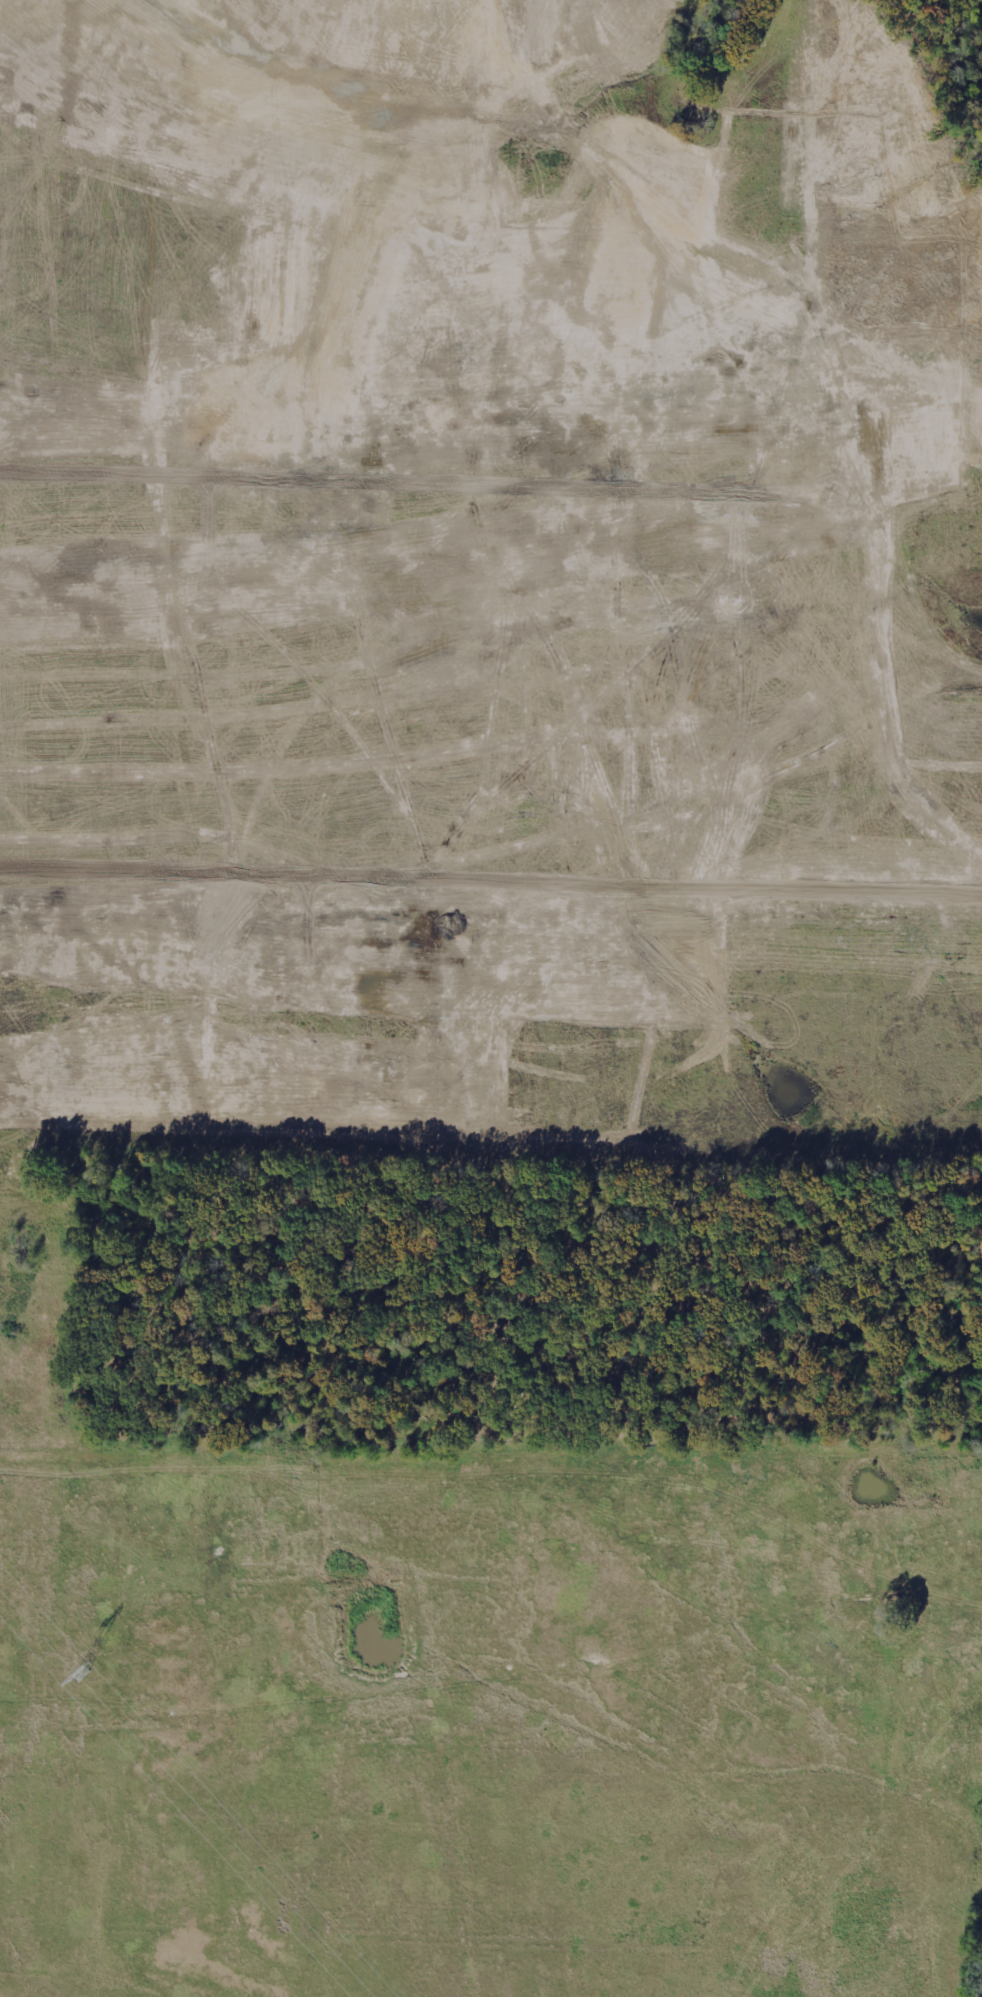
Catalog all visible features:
power tower: (81, 1674)

